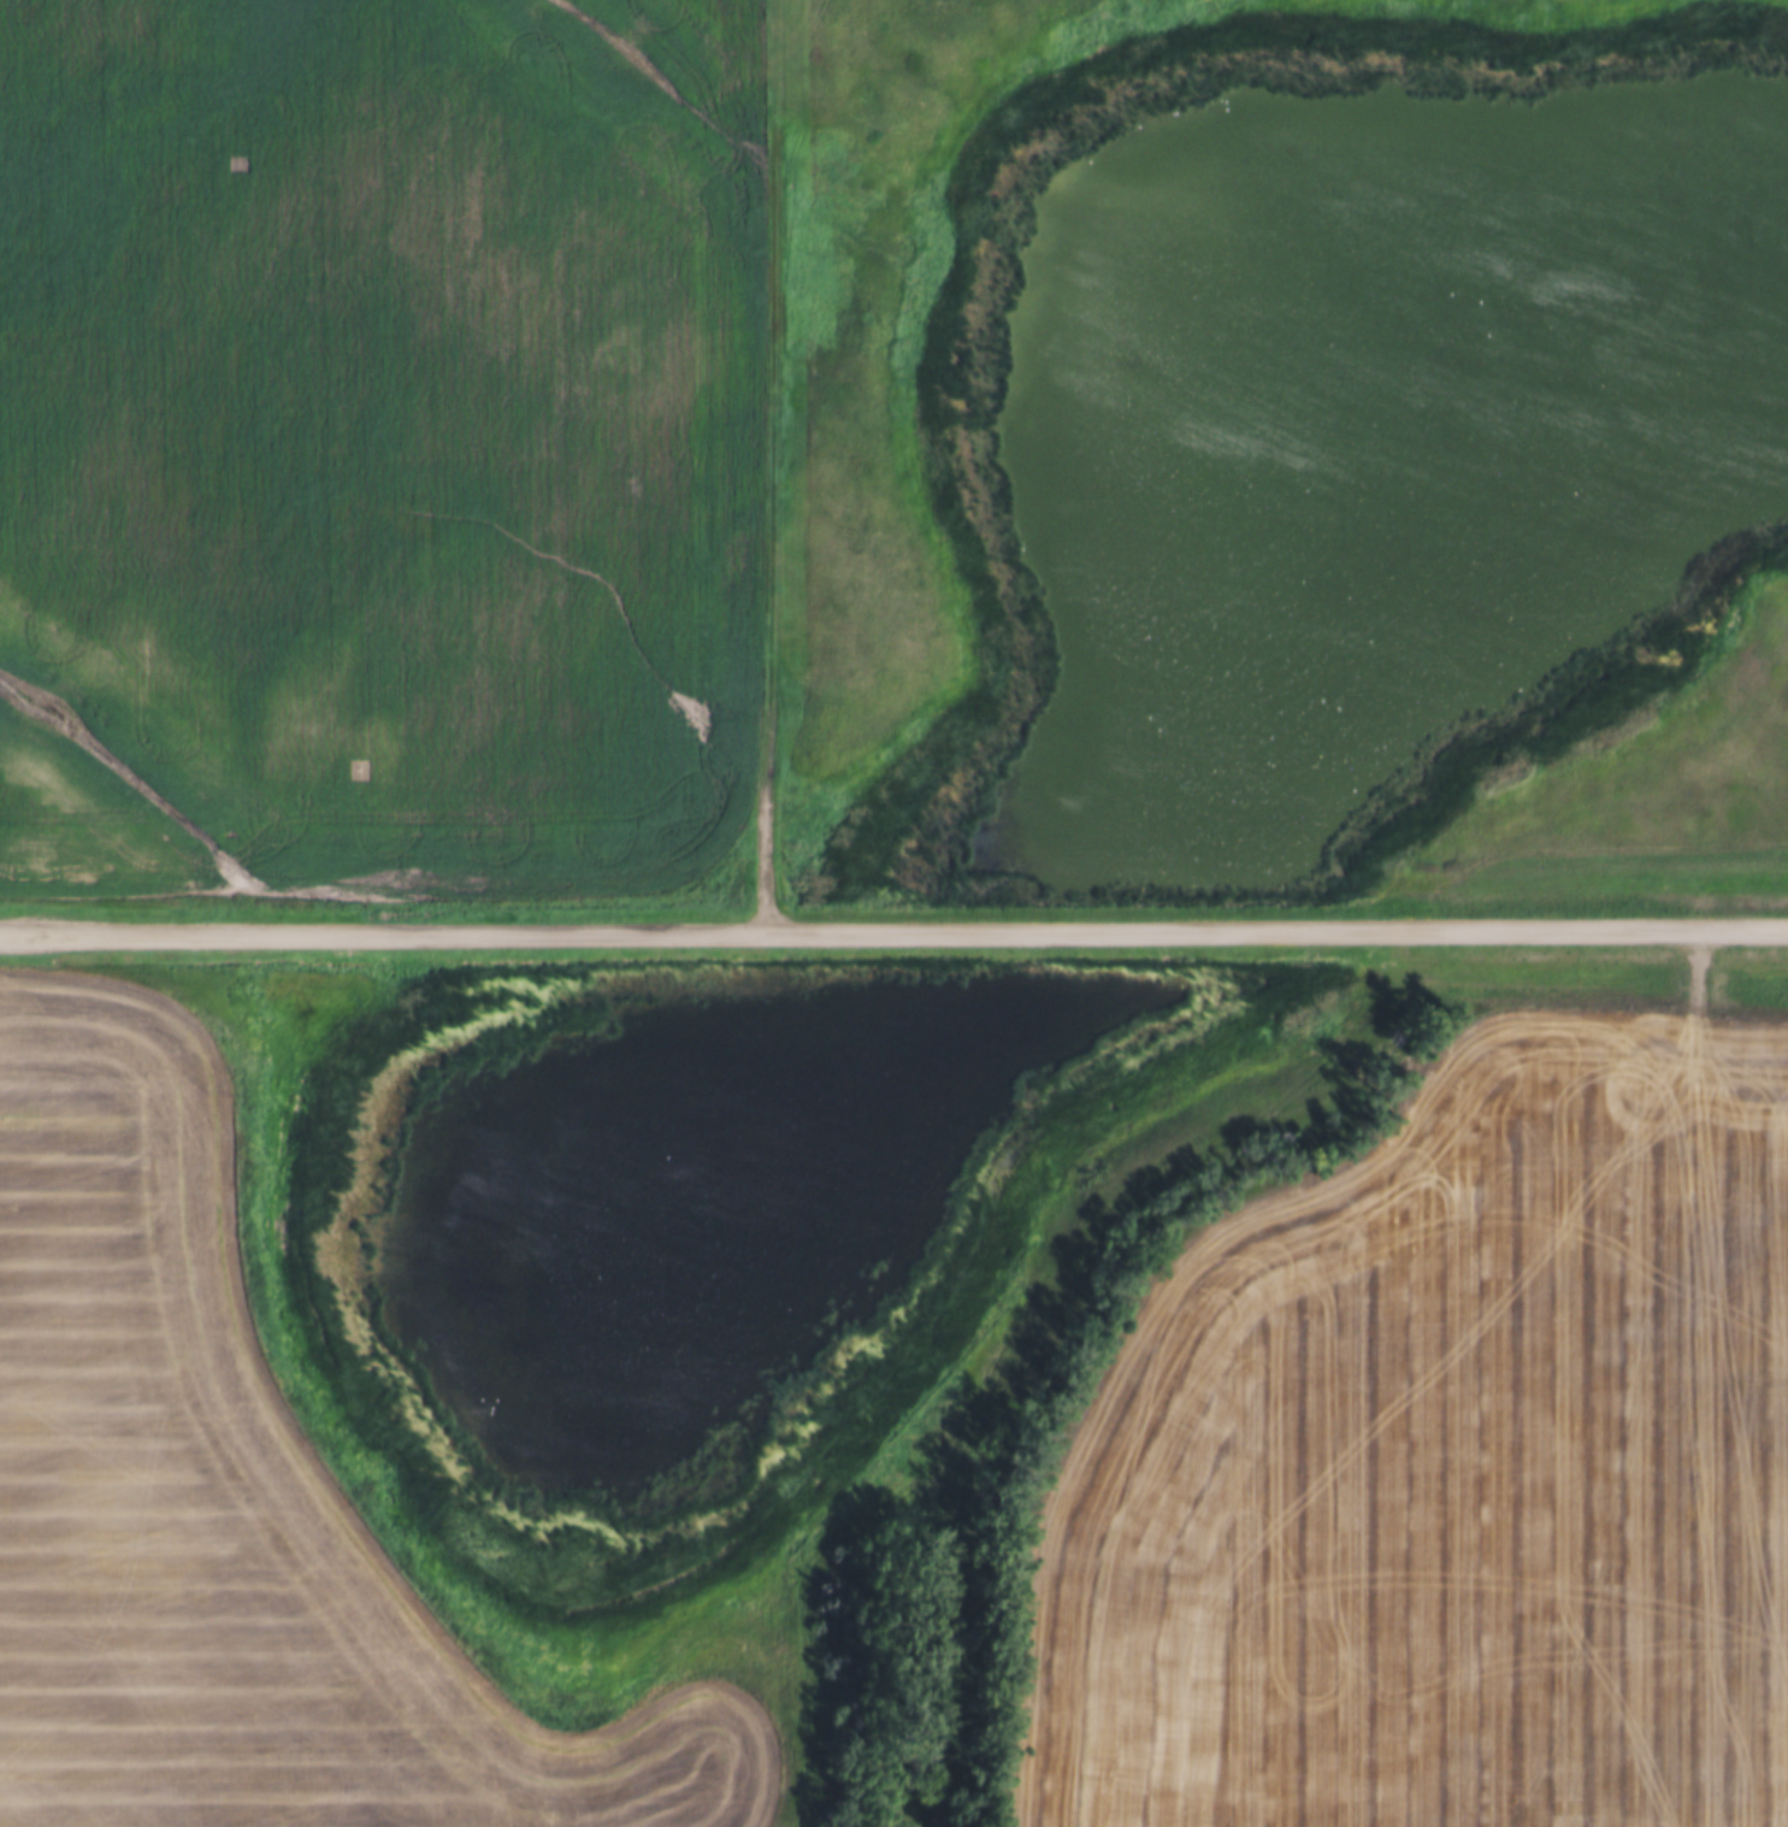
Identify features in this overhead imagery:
road: (771, 462)
road: (893, 925)

